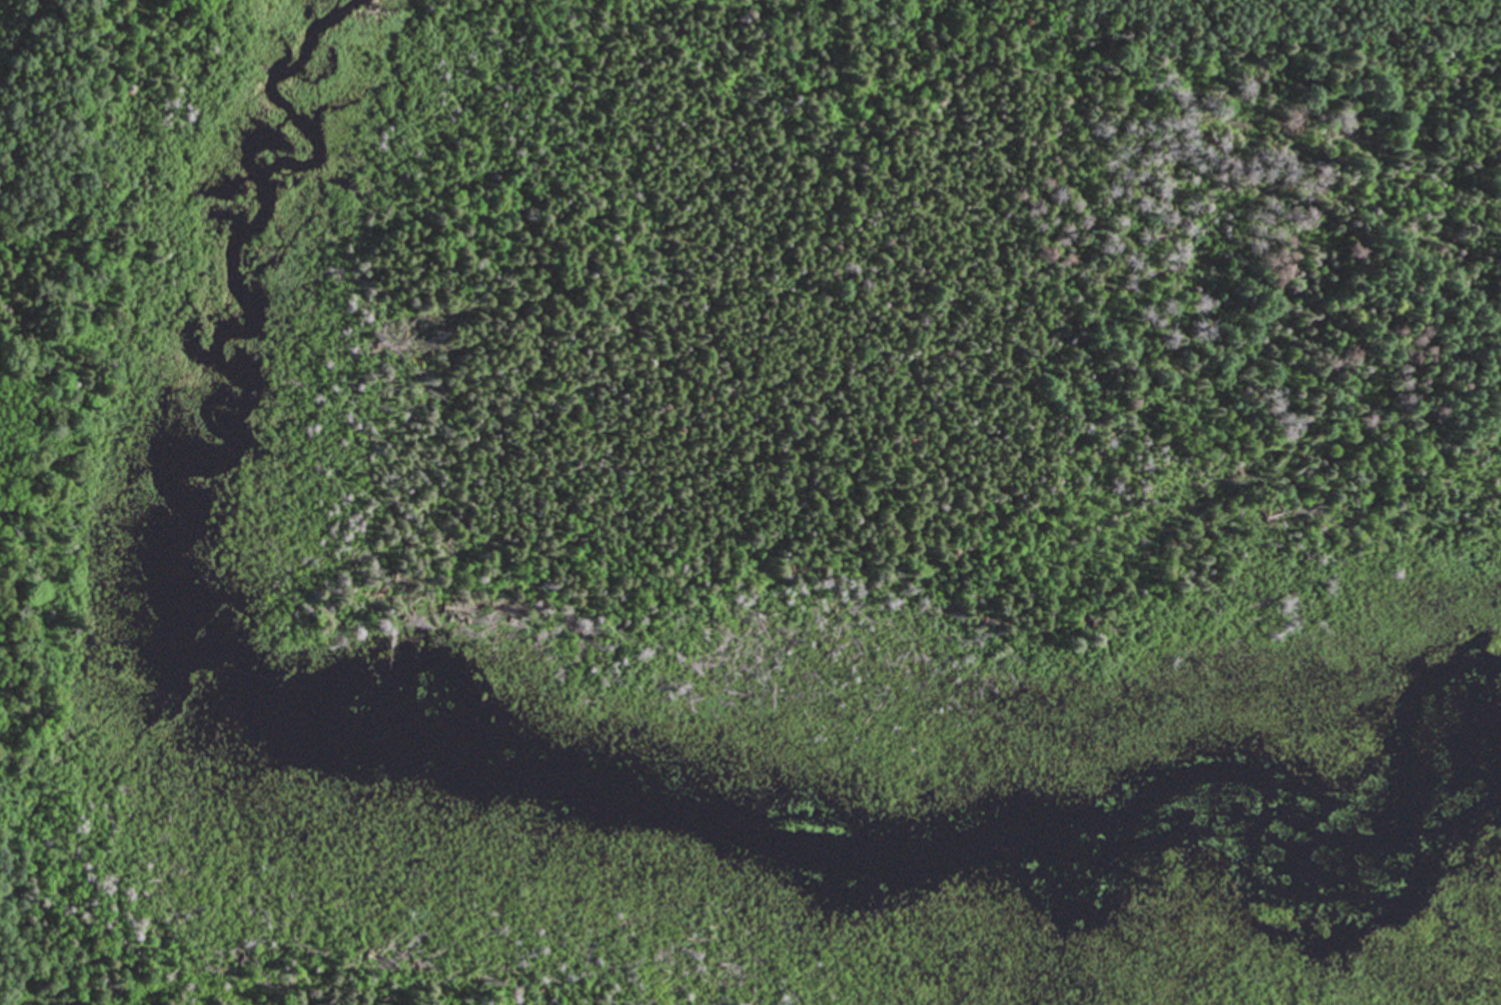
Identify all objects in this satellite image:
river: (477, 739)

